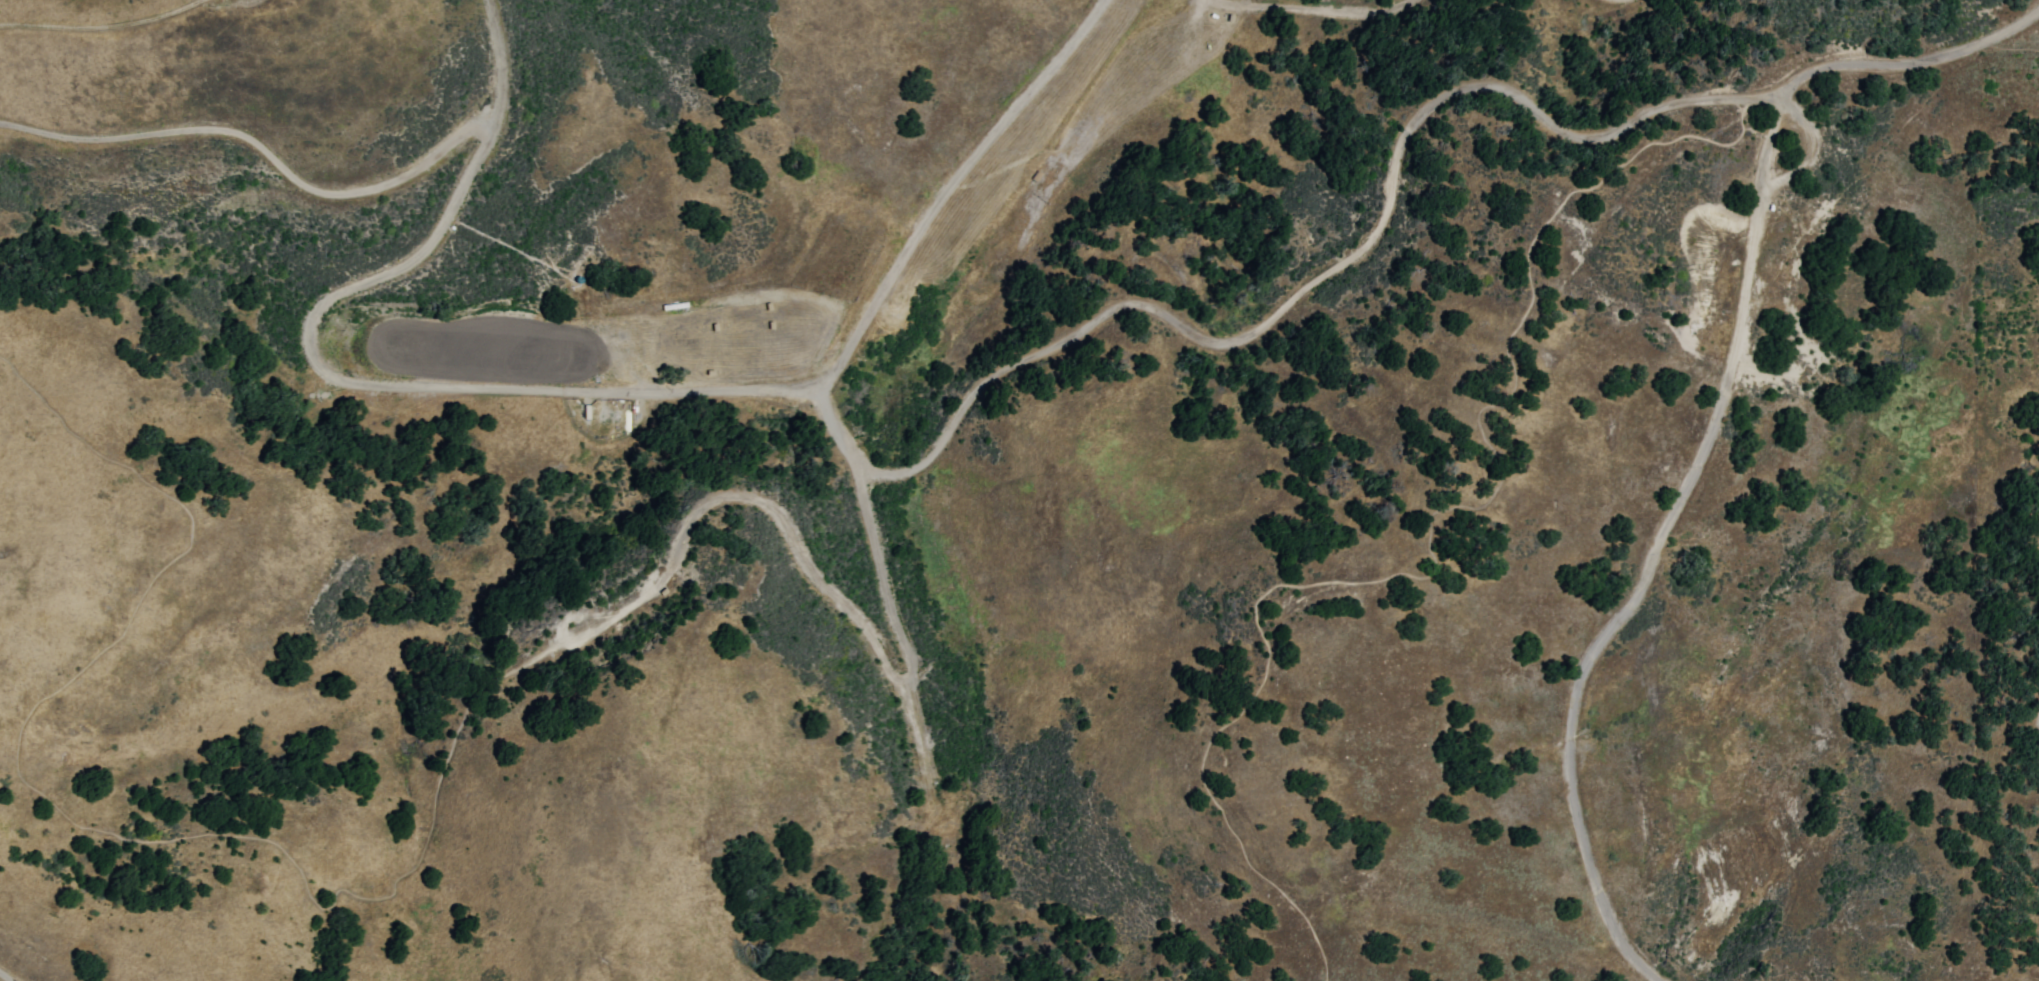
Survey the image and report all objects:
road: (1301, 19)
road: (500, 44)
road: (267, 148)
road: (935, 190)
road: (1317, 277)
road: (375, 382)
road: (1714, 420)
road: (806, 576)
road: (44, 810)
road: (9, 972)

